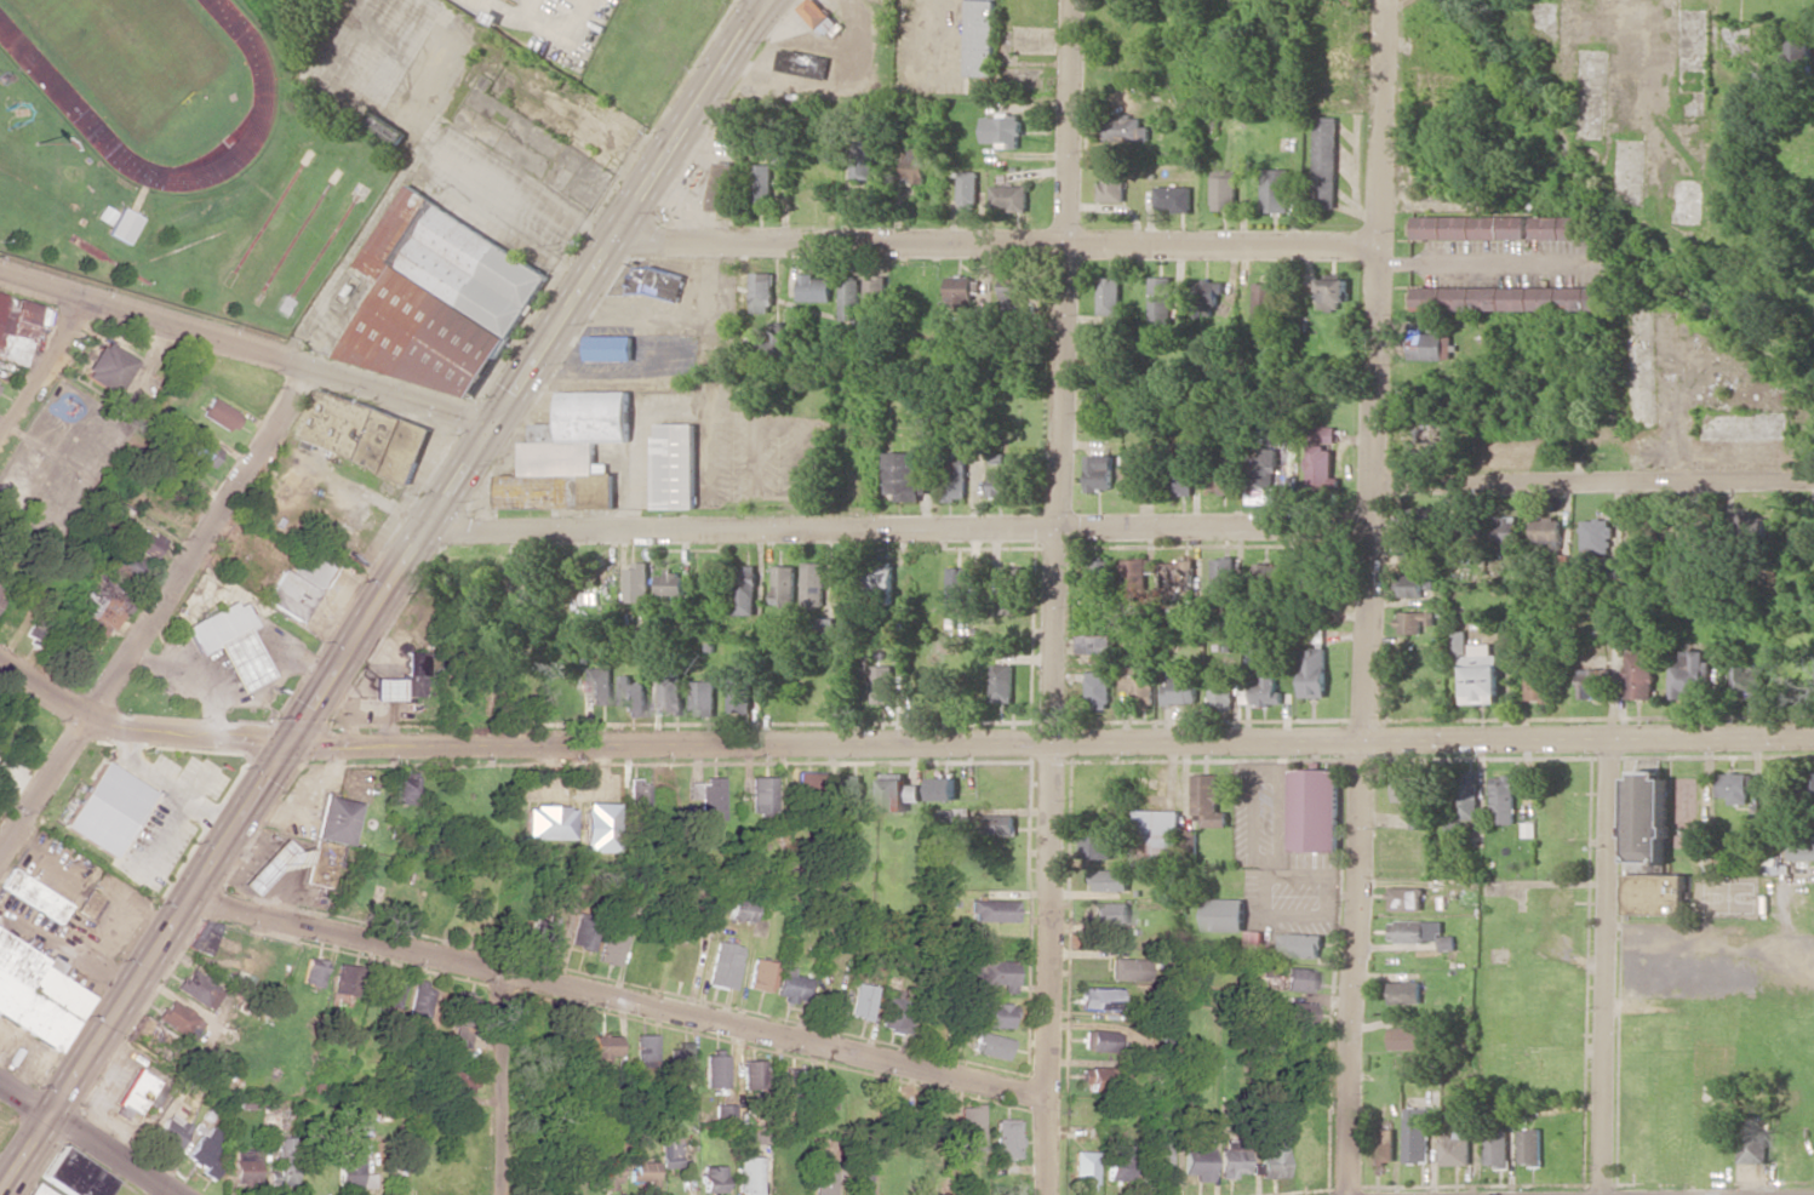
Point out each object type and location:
road: (765, 1)
road: (766, 1)
traffic signals: (766, 2)
road: (528, 10)
building: (818, 16)
parking lot: (568, 25)
road: (547, 30)
building: (980, 38)
park: (131, 53)
building: (1801, 57)
building: (802, 63)
track: (67, 101)
building: (382, 127)
building: (1003, 130)
building: (1125, 130)
building: (863, 159)
building: (1323, 161)
building: (912, 166)
building: (760, 183)
building: (1111, 184)
building: (720, 185)
building: (967, 189)
building: (1274, 190)
building: (1223, 191)
building: (1009, 198)
building: (1174, 198)
road: (626, 207)
building: (122, 225)
building: (1470, 228)
building: (1557, 228)
road: (991, 241)
road: (1483, 259)
building: (653, 284)
building: (812, 288)
building: (760, 292)
building: (874, 292)
building: (1012, 292)
building: (1332, 292)
building: (1108, 296)
building: (435, 298)
building: (848, 298)
building: (1507, 298)
building: (1160, 299)
building: (1209, 299)
building: (1264, 301)
building: (15, 328)
building: (776, 336)
building: (1426, 344)
building: (607, 348)
road: (246, 349)
building: (104, 367)
road: (44, 370)
building: (219, 414)
building: (361, 433)
building: (1425, 441)
building: (198, 450)
building: (567, 454)
building: (674, 465)
building: (1318, 467)
building: (1223, 471)
building: (1098, 473)
building: (1131, 474)
building: (902, 476)
building: (952, 476)
building: (1260, 476)
building: (1179, 480)
road: (1591, 481)
building: (1000, 485)
building: (1418, 518)
road: (894, 526)
building: (1545, 530)
building: (1504, 534)
building: (1595, 537)
building: (147, 544)
building: (1408, 553)
building: (1263, 570)
building: (1177, 573)
building: (1224, 574)
building: (1137, 577)
building: (1101, 578)
building: (636, 583)
building: (670, 583)
building: (784, 584)
building: (298, 585)
building: (813, 585)
building: (960, 587)
building: (1409, 587)
building: (1012, 589)
building: (1307, 589)
building: (744, 590)
building: (107, 596)
road: (1057, 597)
road: (1366, 597)
road: (155, 611)
building: (1412, 622)
building: (35, 629)
building: (228, 644)
building: (1098, 645)
building: (1475, 669)
building: (1312, 673)
building: (412, 674)
building: (1638, 675)
building: (1689, 675)
building: (1135, 681)
building: (1534, 682)
building: (1749, 682)
building: (882, 684)
building: (1003, 684)
building: (1592, 684)
building: (600, 686)
building: (385, 688)
building: (739, 691)
building: (1179, 692)
building: (1265, 692)
building: (669, 694)
building: (633, 697)
building: (703, 698)
road: (149, 724)
road: (1064, 739)
building: (807, 782)
building: (1734, 787)
building: (1812, 787)
building: (943, 789)
building: (402, 790)
building: (636, 793)
building: (898, 793)
building: (761, 795)
building: (1466, 795)
building: (852, 796)
building: (706, 797)
building: (1503, 797)
building: (1413, 799)
building: (1207, 801)
road: (247, 804)
building: (105, 810)
building: (1314, 811)
building: (545, 823)
building: (988, 824)
building: (595, 827)
building: (1157, 837)
building: (1095, 846)
building: (1188, 846)
building: (310, 850)
building: (1649, 851)
building: (1802, 852)
building: (1770, 865)
building: (1109, 880)
building: (33, 896)
building: (1404, 898)
building: (88, 903)
building: (738, 910)
building: (991, 910)
building: (1110, 913)
building: (1223, 915)
building: (540, 927)
building: (1419, 932)
building: (582, 934)
building: (202, 937)
building: (1253, 939)
building: (611, 944)
building: (1298, 945)
building: (725, 966)
road: (1604, 967)
building: (1127, 970)
building: (313, 972)
building: (995, 973)
building: (761, 976)
building: (1300, 979)
building: (344, 983)
building: (790, 987)
building: (198, 989)
building: (388, 993)
building: (1403, 993)
building: (36, 994)
building: (1098, 999)
road: (613, 1000)
building: (862, 1001)
building: (417, 1002)
building: (898, 1011)
building: (1297, 1013)
building: (995, 1016)
building: (173, 1017)
building: (1403, 1037)
building: (567, 1039)
building: (1097, 1041)
building: (989, 1046)
building: (605, 1047)
building: (645, 1048)
building: (681, 1058)
building: (715, 1069)
building: (753, 1074)
building: (1088, 1076)
road: (503, 1086)
building: (788, 1090)
building: (825, 1094)
building: (725, 1113)
building: (971, 1128)
building: (170, 1131)
building: (1414, 1134)
road: (88, 1137)
building: (1007, 1140)
building: (1380, 1147)
building: (1529, 1147)
building: (1751, 1147)
building: (1495, 1148)
building: (1453, 1149)
building: (670, 1151)
building: (202, 1153)
building: (1271, 1153)
building: (1158, 1160)
building: (1196, 1160)
building: (1116, 1162)
building: (282, 1163)
building: (1230, 1163)
building: (244, 1167)
building: (603, 1167)
building: (1083, 1168)
building: (351, 1171)
building: (643, 1172)
building: (74, 1176)
building: (749, 1176)
building: (713, 1178)
building: (824, 1179)
building: (860, 1180)
building: (38, 1190)

